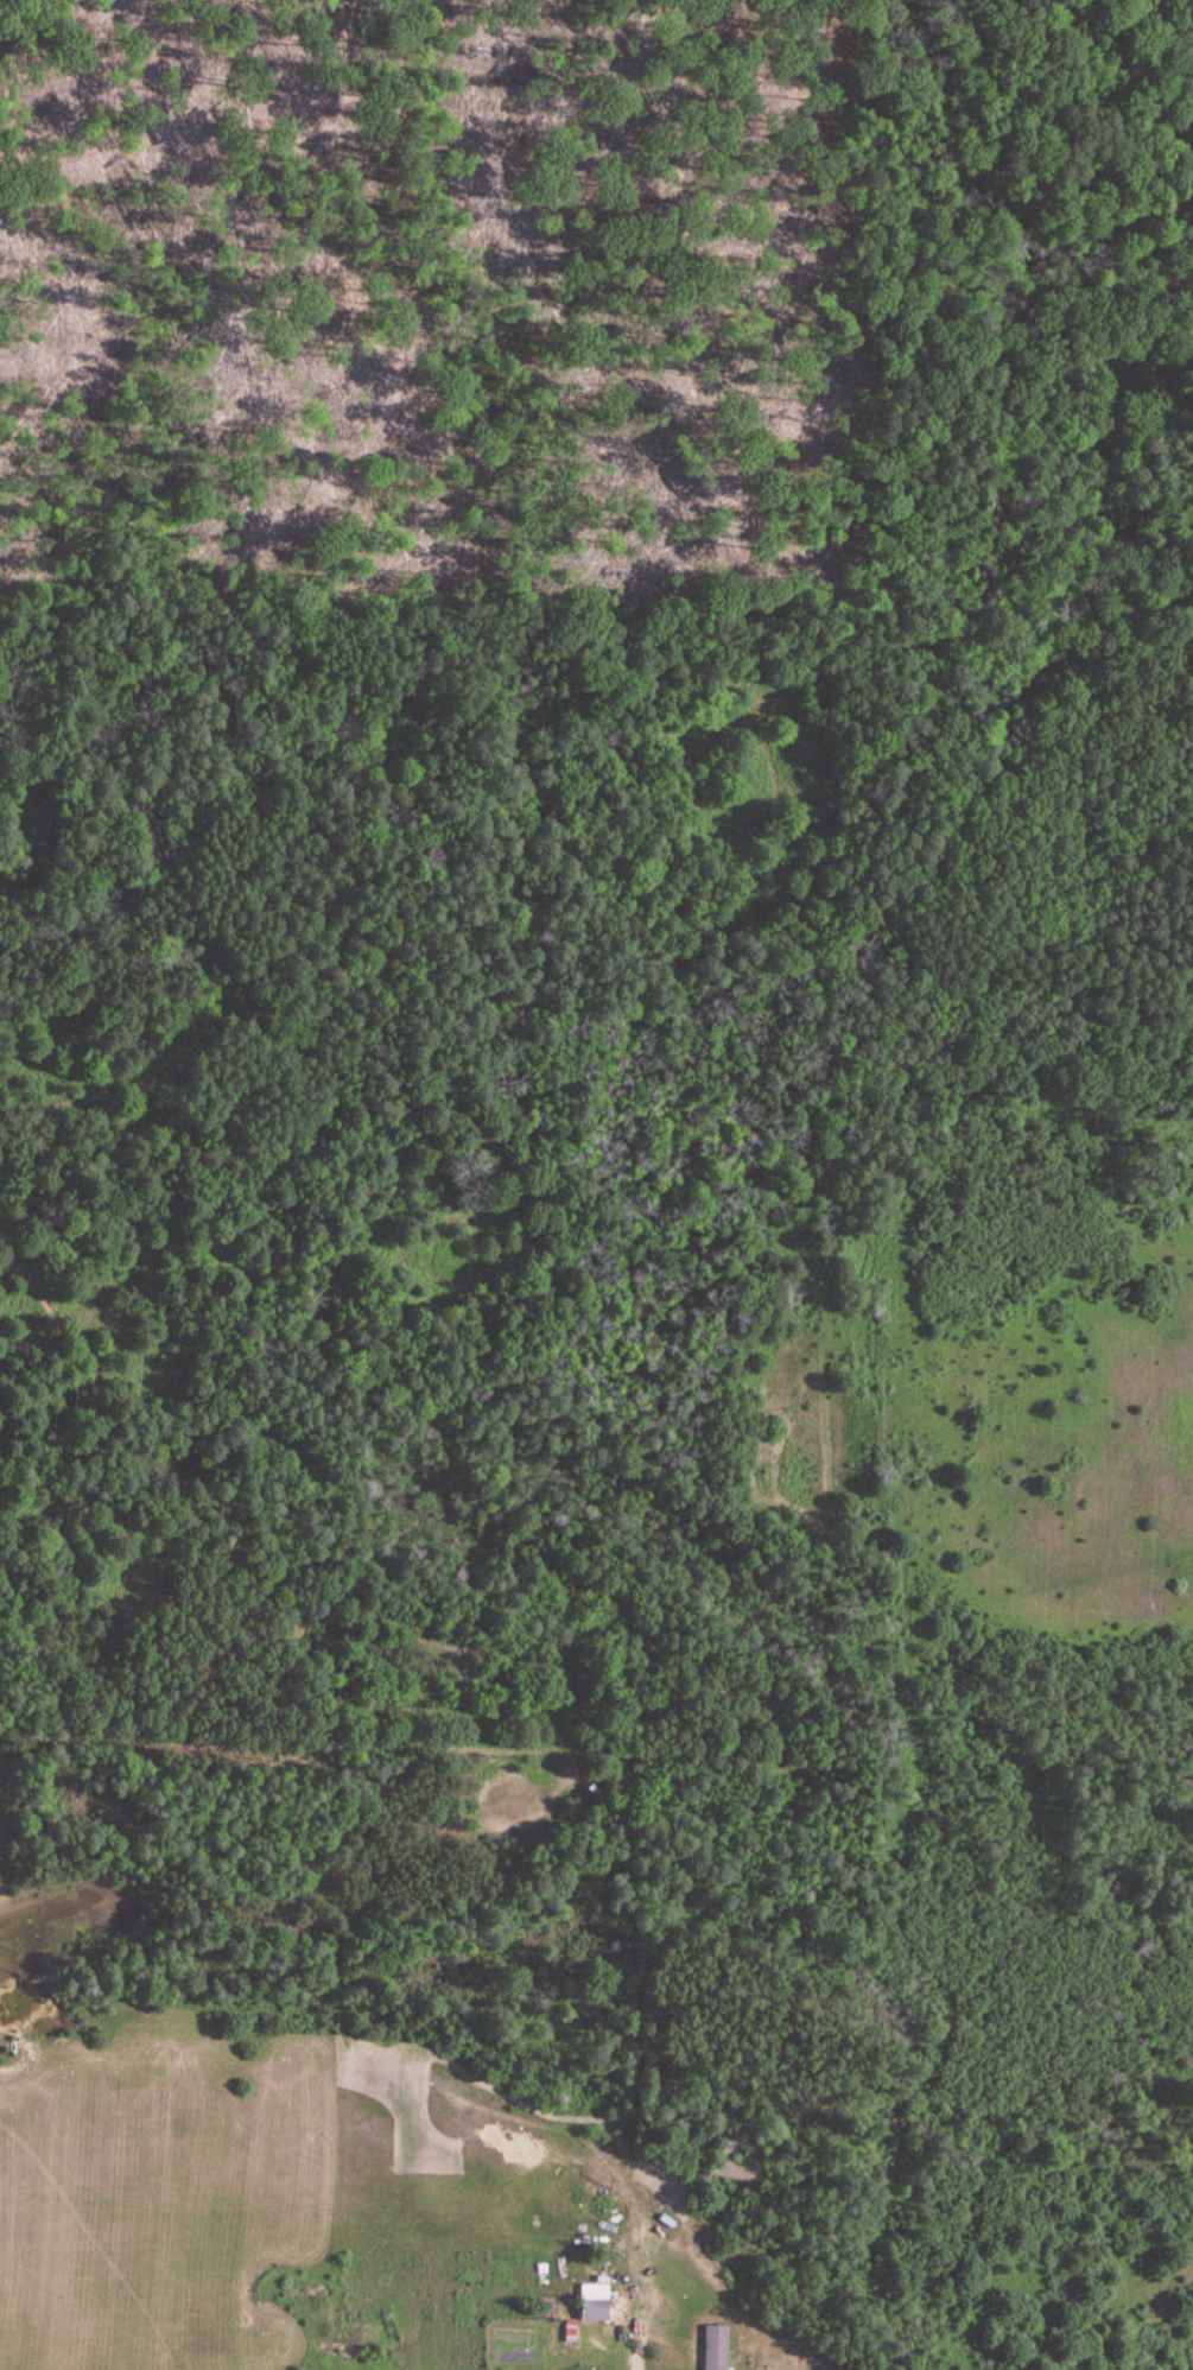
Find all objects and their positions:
building: (592, 2311)
road: (630, 2340)
building: (715, 2349)

